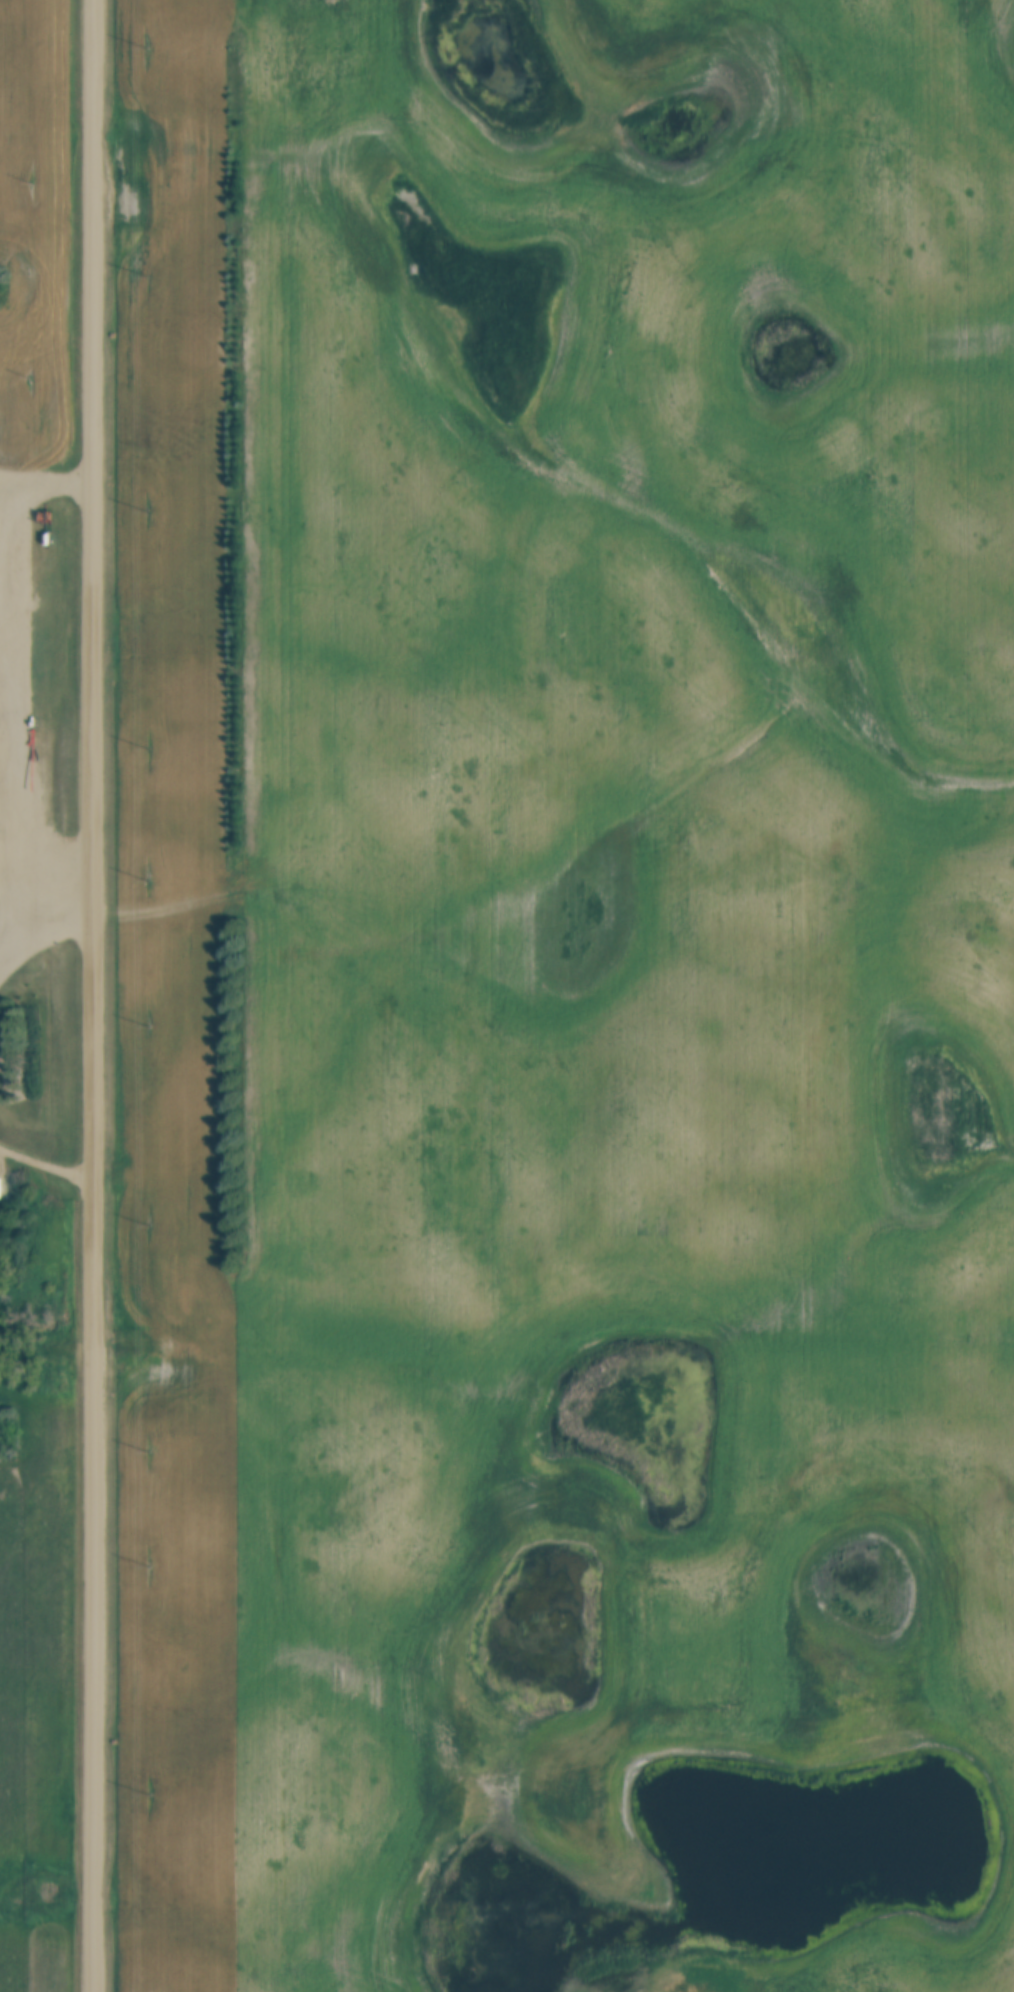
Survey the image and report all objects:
road: (29, 498)
road: (24, 792)
road: (96, 996)
building: (3, 1049)
road: (47, 1166)

